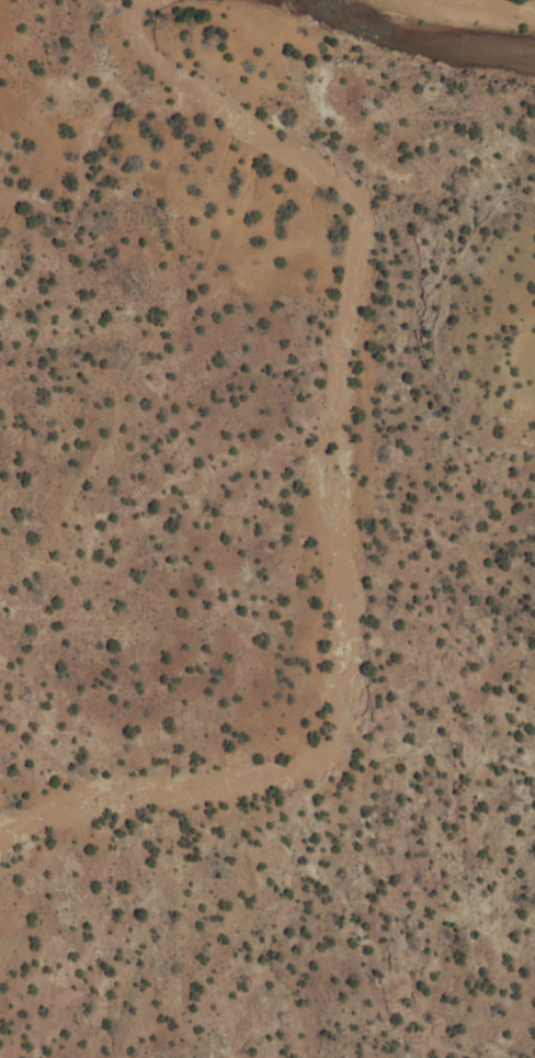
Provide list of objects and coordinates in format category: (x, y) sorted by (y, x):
river: (435, 36)

